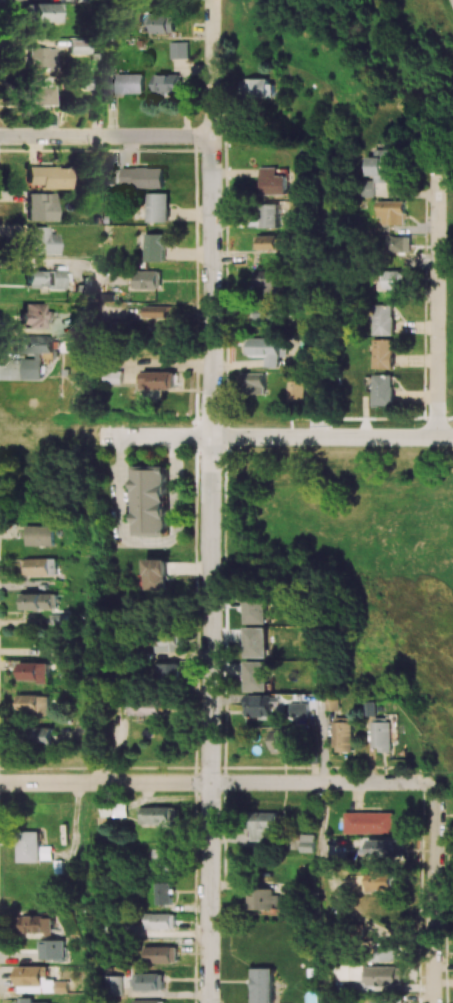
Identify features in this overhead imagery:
road: (451, 4)
building: (43, 12)
building: (162, 24)
building: (77, 46)
building: (180, 49)
building: (41, 58)
building: (129, 82)
building: (167, 82)
building: (259, 88)
building: (41, 91)
road: (158, 136)
building: (380, 164)
building: (49, 176)
building: (144, 176)
building: (273, 181)
building: (363, 188)
building: (158, 206)
building: (40, 207)
building: (390, 211)
building: (270, 215)
building: (40, 240)
building: (274, 242)
building: (397, 244)
building: (155, 246)
building: (147, 279)
building: (269, 279)
building: (393, 279)
building: (46, 280)
road: (438, 297)
building: (160, 311)
building: (34, 314)
building: (273, 314)
building: (383, 319)
park: (449, 327)
building: (270, 348)
building: (383, 353)
building: (39, 355)
road: (326, 364)
building: (157, 380)
building: (253, 383)
building: (383, 389)
building: (299, 390)
road: (445, 418)
road: (166, 437)
road: (332, 437)
building: (151, 500)
road: (212, 501)
building: (41, 535)
road: (151, 541)
building: (39, 566)
building: (156, 573)
building: (39, 601)
building: (257, 609)
building: (167, 640)
building: (257, 641)
building: (37, 671)
building: (167, 671)
building: (257, 676)
building: (335, 703)
building: (37, 704)
building: (265, 705)
building: (149, 706)
building: (302, 708)
building: (381, 728)
building: (50, 735)
building: (345, 736)
road: (325, 738)
building: (284, 741)
road: (217, 782)
building: (114, 809)
building: (158, 815)
building: (370, 822)
building: (267, 825)
building: (311, 842)
building: (29, 846)
building: (388, 848)
building: (163, 860)
road: (324, 862)
building: (390, 882)
building: (163, 893)
road: (438, 894)
building: (263, 898)
building: (159, 920)
building: (39, 924)
building: (52, 949)
building: (389, 951)
building: (161, 954)
building: (390, 975)
building: (39, 980)
building: (148, 981)
road: (99, 985)
building: (112, 985)
building: (262, 985)
building: (27, 999)
building: (392, 1000)
building: (149, 1001)
building: (53, 1002)

